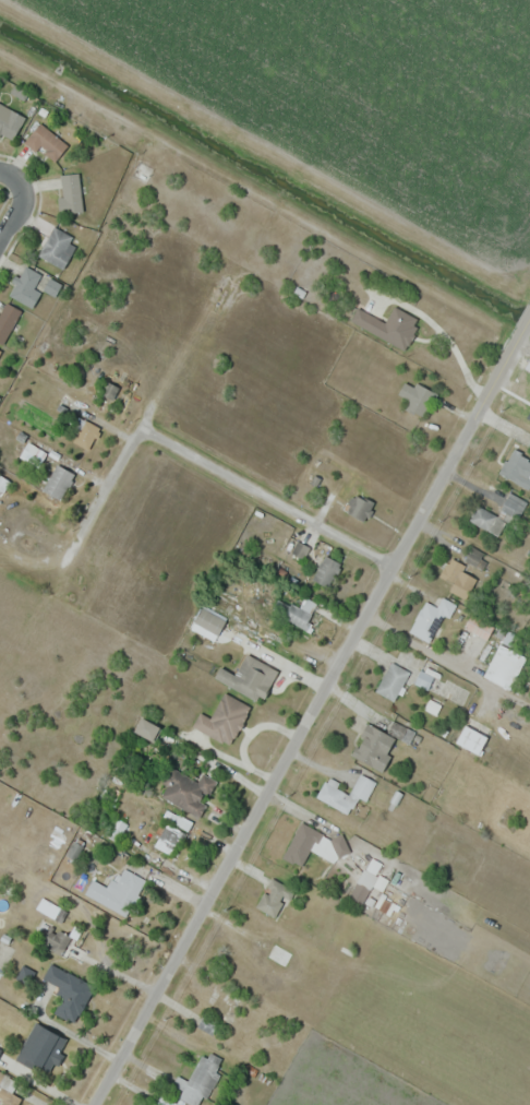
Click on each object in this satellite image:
road: (56, 79)
crop: (350, 99)
building: (10, 120)
building: (47, 141)
road: (15, 175)
building: (70, 192)
road: (15, 209)
building: (57, 247)
building: (27, 286)
building: (8, 318)
road: (525, 323)
building: (388, 325)
road: (522, 346)
building: (0, 350)
building: (418, 396)
building: (86, 433)
building: (529, 441)
building: (34, 454)
road: (113, 455)
building: (516, 467)
building: (59, 480)
road: (262, 495)
building: (360, 507)
building: (498, 513)
building: (301, 549)
building: (475, 556)
building: (327, 570)
building: (459, 577)
building: (296, 609)
building: (432, 618)
building: (210, 620)
building: (479, 626)
road: (446, 661)
building: (505, 666)
building: (250, 676)
building: (424, 679)
building: (393, 681)
building: (225, 718)
road: (305, 718)
road: (256, 727)
building: (147, 728)
building: (472, 739)
building: (380, 741)
road: (228, 757)
road: (215, 761)
building: (189, 789)
building: (346, 793)
building: (117, 828)
building: (169, 837)
building: (314, 844)
building: (369, 880)
building: (119, 890)
building: (275, 896)
building: (51, 910)
building: (58, 938)
building: (281, 953)
building: (25, 973)
building: (69, 991)
building: (209, 1023)
road: (64, 1031)
building: (43, 1047)
building: (1, 1050)
building: (200, 1080)
road: (38, 1083)
building: (9, 1090)
building: (174, 1104)

